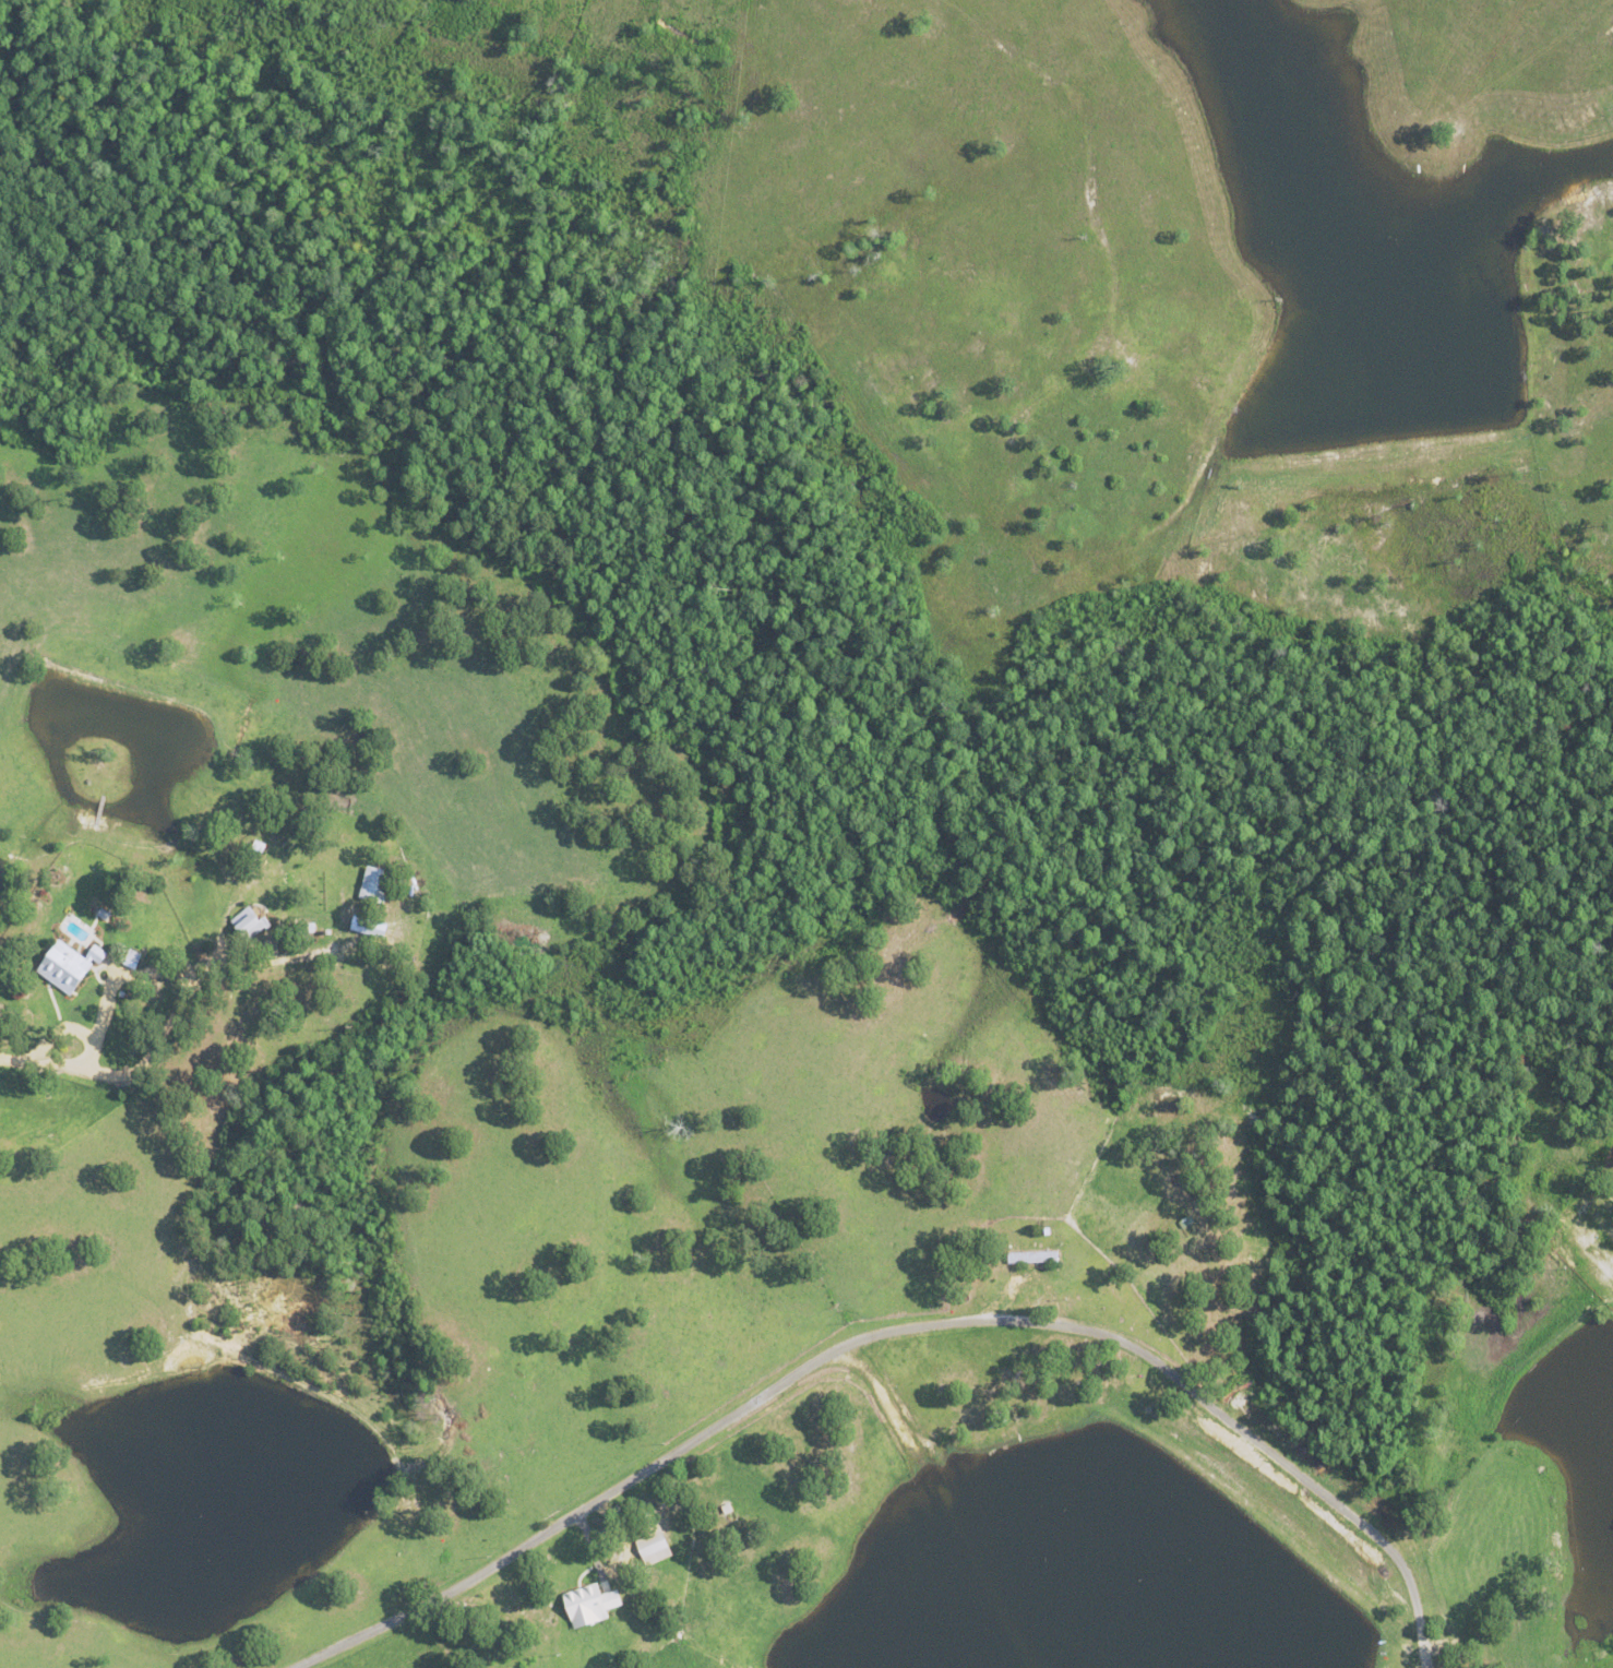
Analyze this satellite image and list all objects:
building: (371, 883)
building: (246, 922)
building: (63, 964)
building: (1028, 1256)
road: (898, 1329)
dam: (1264, 1517)
building: (650, 1546)
building: (588, 1605)

